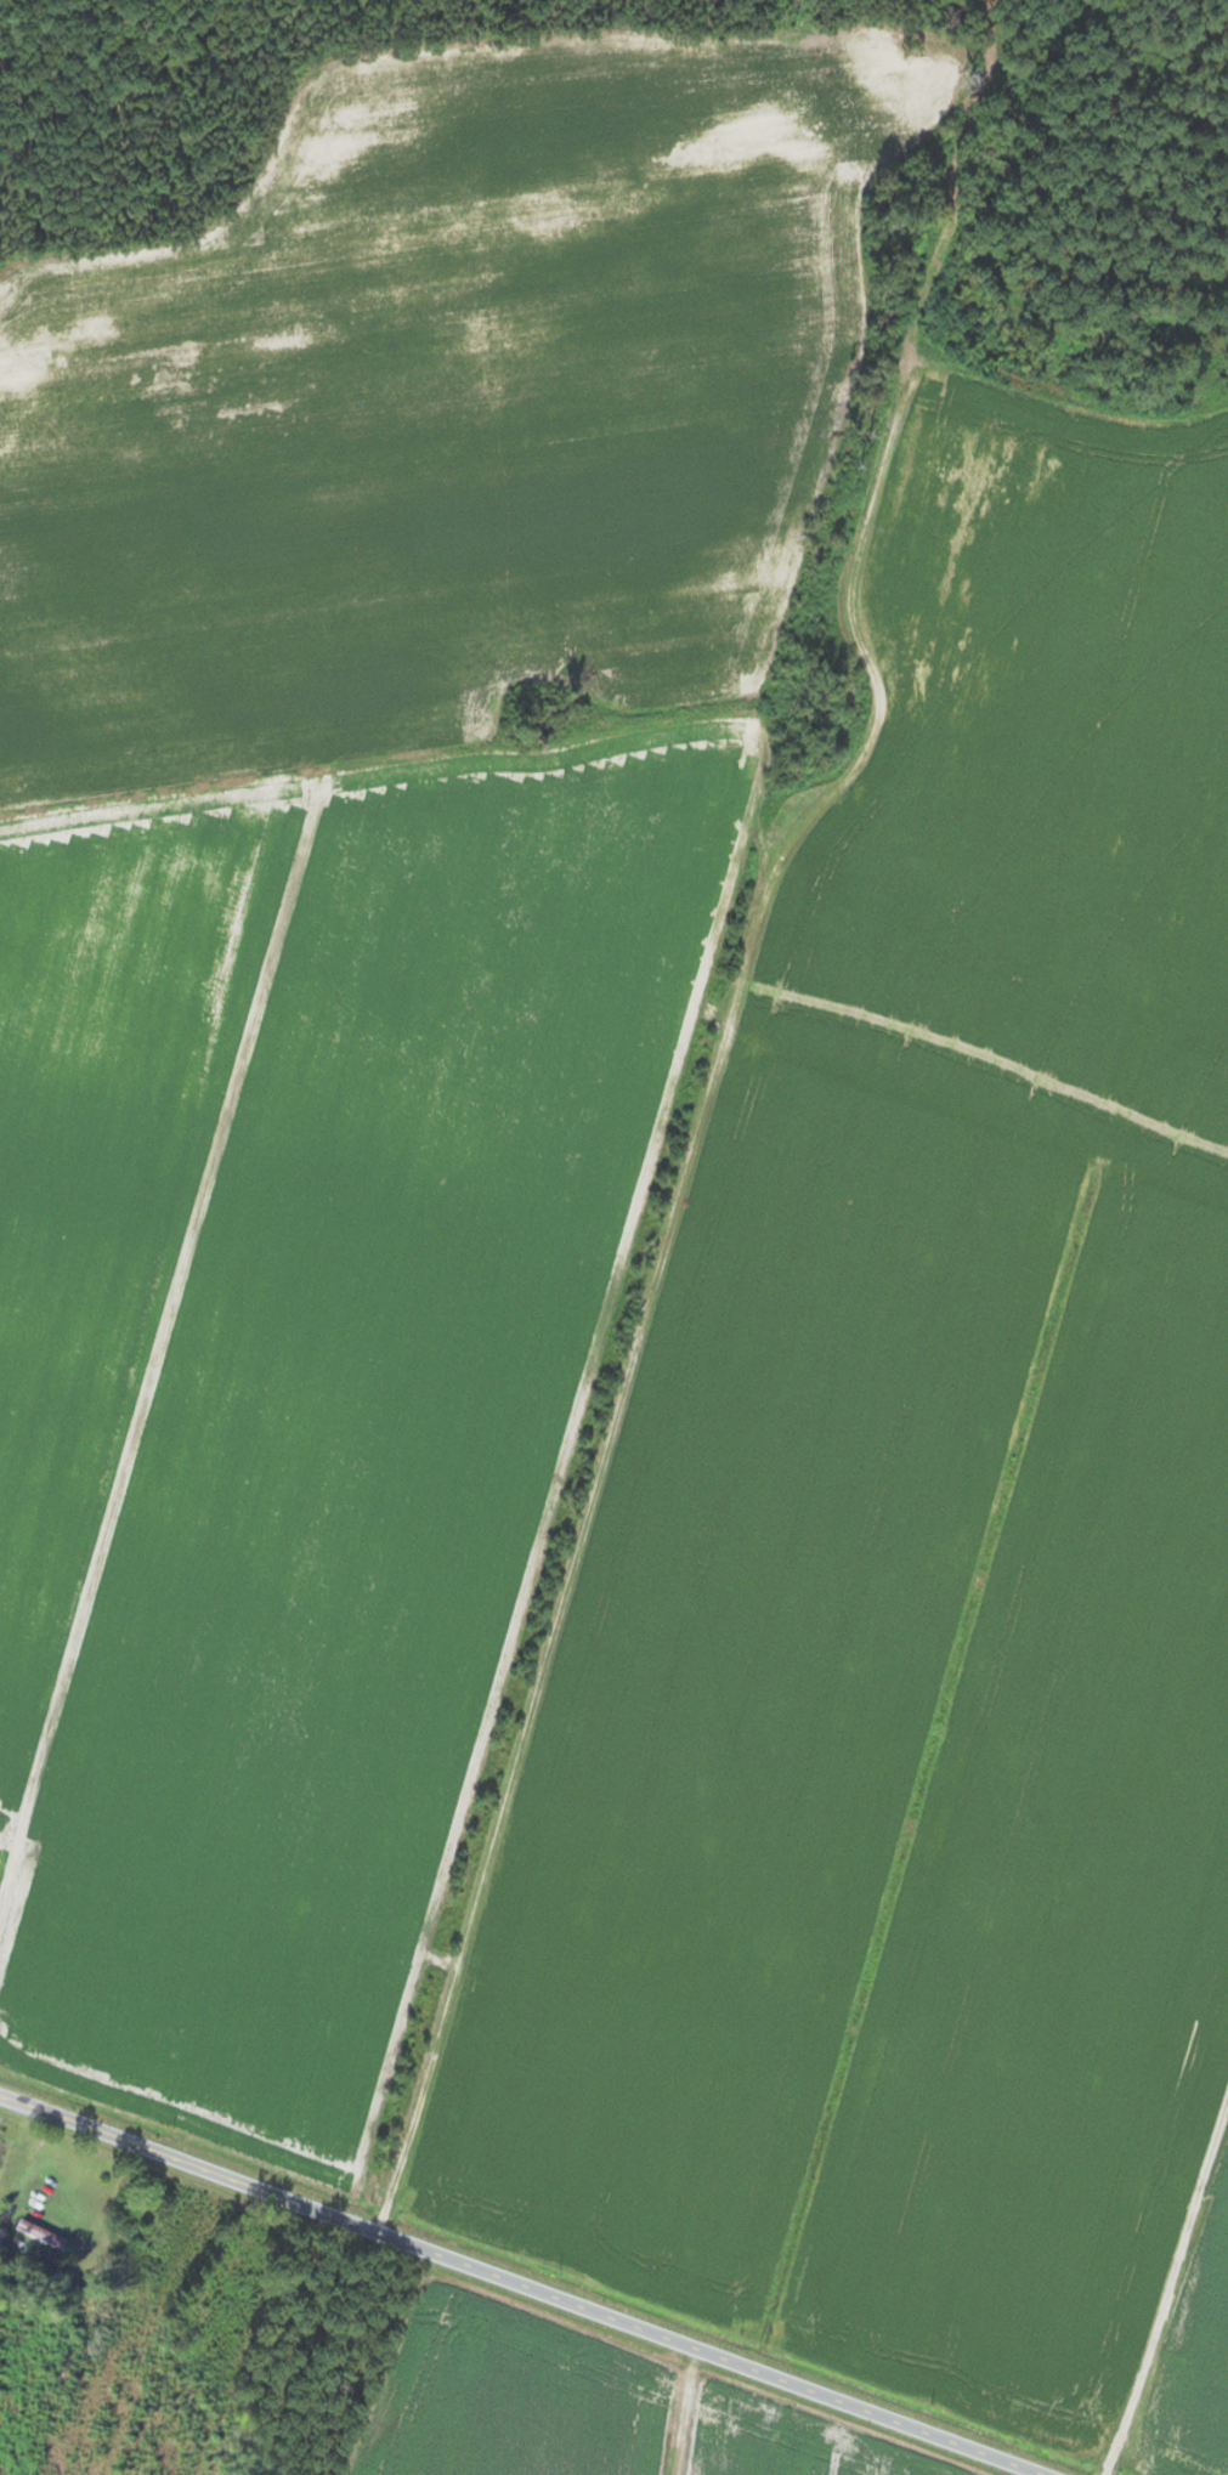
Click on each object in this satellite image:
building: (47, 2232)
road: (516, 2286)

